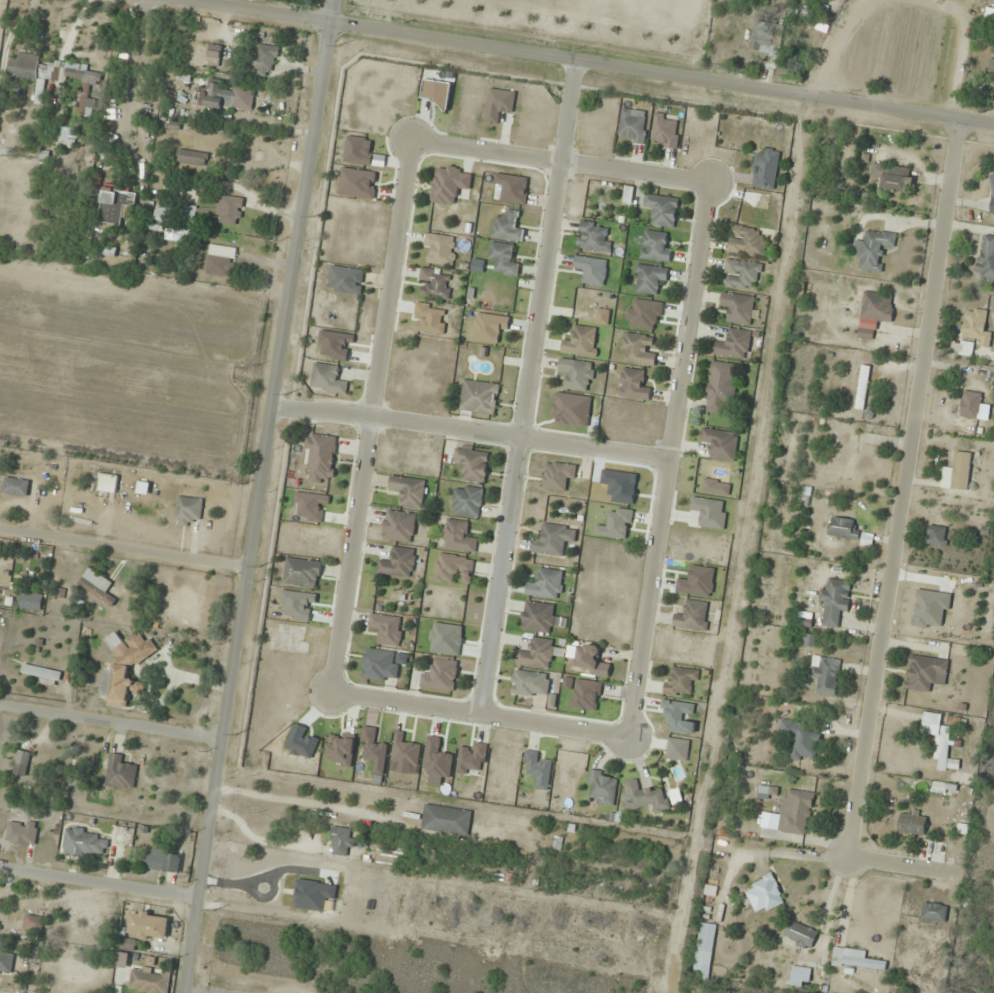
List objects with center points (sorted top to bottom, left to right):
building: (766, 38)
building: (214, 55)
road: (585, 59)
building: (265, 60)
building: (991, 65)
building: (55, 77)
building: (436, 92)
building: (230, 97)
building: (499, 105)
building: (633, 125)
building: (665, 131)
building: (68, 137)
building: (192, 157)
road: (560, 162)
building: (893, 177)
building: (450, 184)
building: (991, 188)
building: (627, 195)
building: (115, 206)
building: (661, 209)
building: (230, 210)
building: (508, 227)
building: (178, 236)
building: (747, 241)
building: (655, 246)
building: (441, 249)
building: (873, 249)
building: (112, 253)
building: (503, 258)
building: (986, 258)
building: (221, 260)
building: (591, 270)
building: (741, 274)
building: (650, 279)
building: (346, 280)
building: (434, 284)
building: (737, 308)
building: (875, 313)
building: (597, 317)
building: (487, 327)
building: (976, 327)
building: (582, 342)
building: (734, 345)
building: (966, 348)
building: (637, 349)
building: (577, 374)
building: (328, 378)
building: (634, 385)
building: (722, 386)
building: (863, 387)
road: (524, 388)
building: (479, 397)
building: (971, 404)
building: (572, 409)
road: (369, 417)
road: (469, 432)
building: (721, 444)
building: (321, 457)
road: (666, 461)
building: (472, 464)
building: (961, 471)
building: (558, 476)
building: (108, 483)
building: (16, 486)
road: (901, 487)
building: (408, 491)
road: (259, 496)
building: (467, 501)
building: (188, 510)
building: (710, 512)
building: (400, 526)
building: (842, 527)
building: (459, 536)
building: (936, 536)
building: (554, 539)
road: (124, 551)
building: (399, 563)
building: (453, 568)
building: (302, 573)
building: (547, 584)
building: (98, 586)
building: (32, 600)
building: (835, 601)
building: (693, 616)
building: (538, 617)
building: (933, 618)
building: (388, 629)
building: (537, 654)
building: (591, 661)
building: (380, 665)
building: (126, 667)
building: (926, 673)
building: (44, 675)
building: (441, 675)
building: (825, 675)
building: (680, 682)
building: (531, 684)
road: (476, 720)
road: (110, 725)
building: (801, 739)
building: (943, 749)
building: (405, 751)
building: (21, 763)
building: (538, 770)
building: (120, 772)
building: (602, 788)
building: (944, 788)
building: (767, 792)
building: (645, 797)
building: (796, 812)
building: (446, 820)
building: (912, 824)
building: (22, 833)
building: (342, 841)
building: (86, 843)
building: (162, 860)
road: (901, 863)
road: (100, 884)
building: (765, 895)
building: (934, 912)
building: (34, 923)
building: (149, 926)
building: (800, 935)
building: (856, 960)
building: (6, 963)
building: (800, 976)
building: (149, 981)

